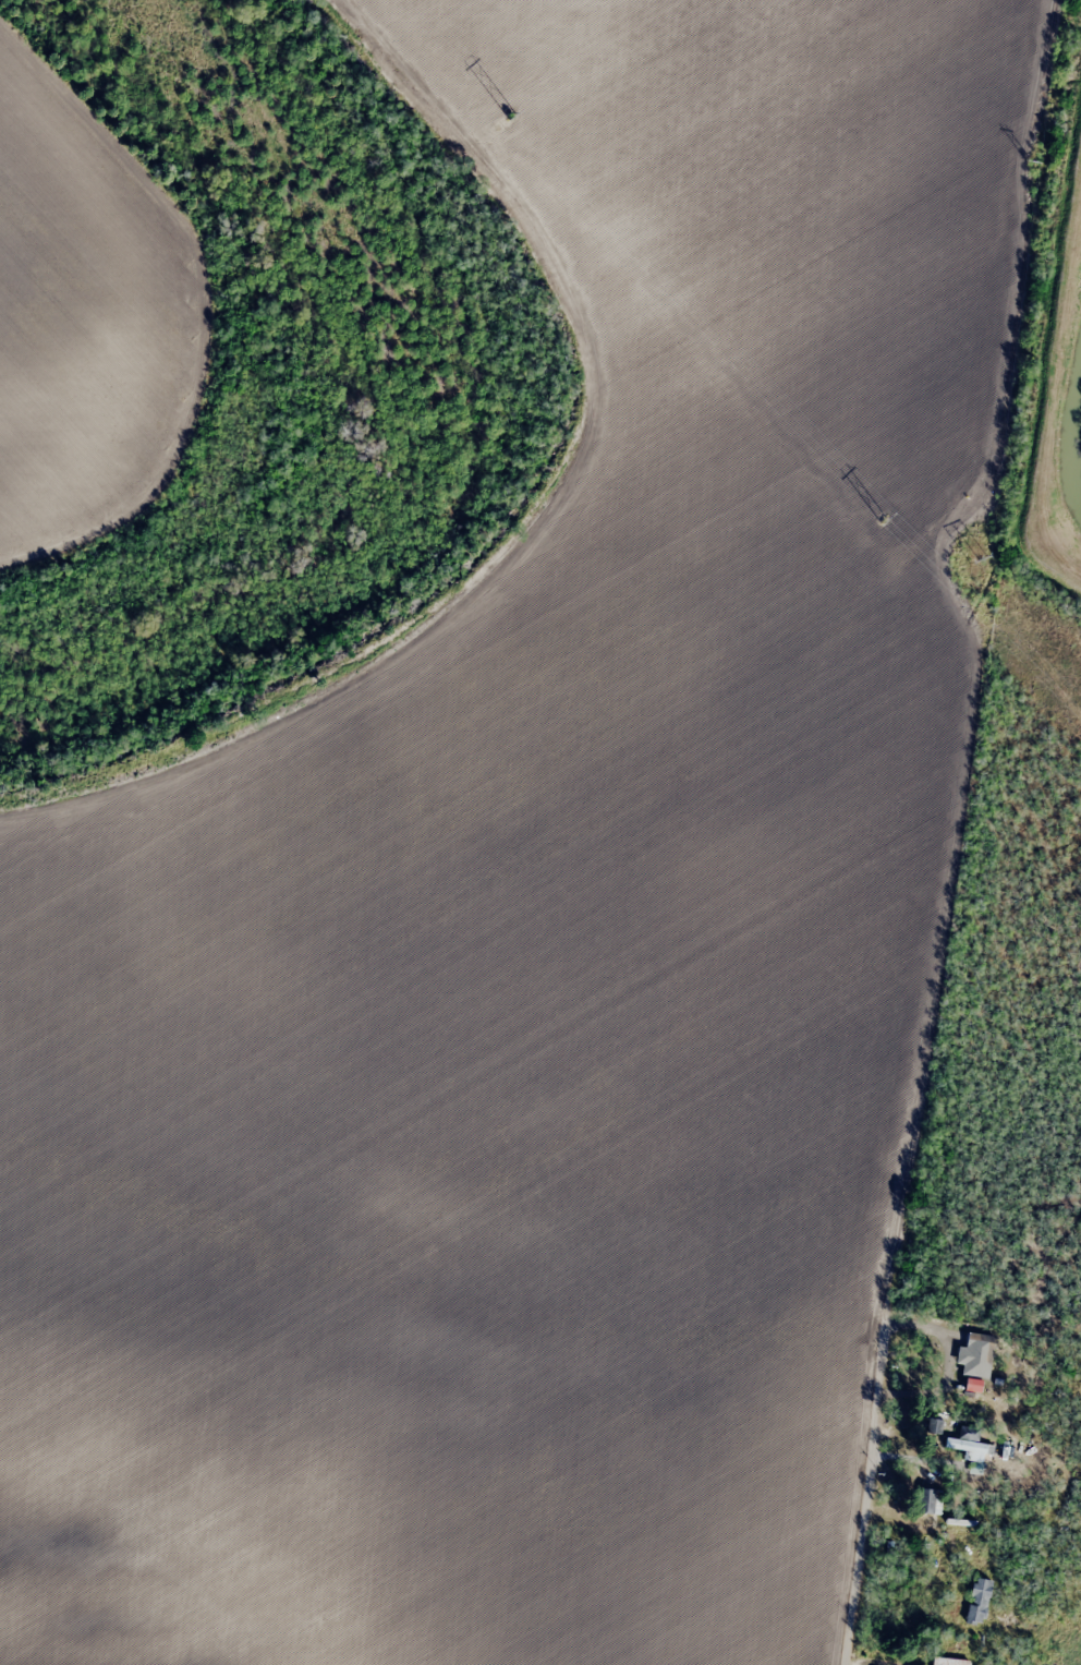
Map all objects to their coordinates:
power tower: (511, 117)
power tower: (1030, 162)
power tower: (883, 520)
road: (549, 540)
power tower: (979, 558)
building: (980, 1350)
building: (934, 1427)
road: (873, 1433)
building: (969, 1449)
building: (927, 1504)
building: (976, 1601)
building: (949, 1662)

